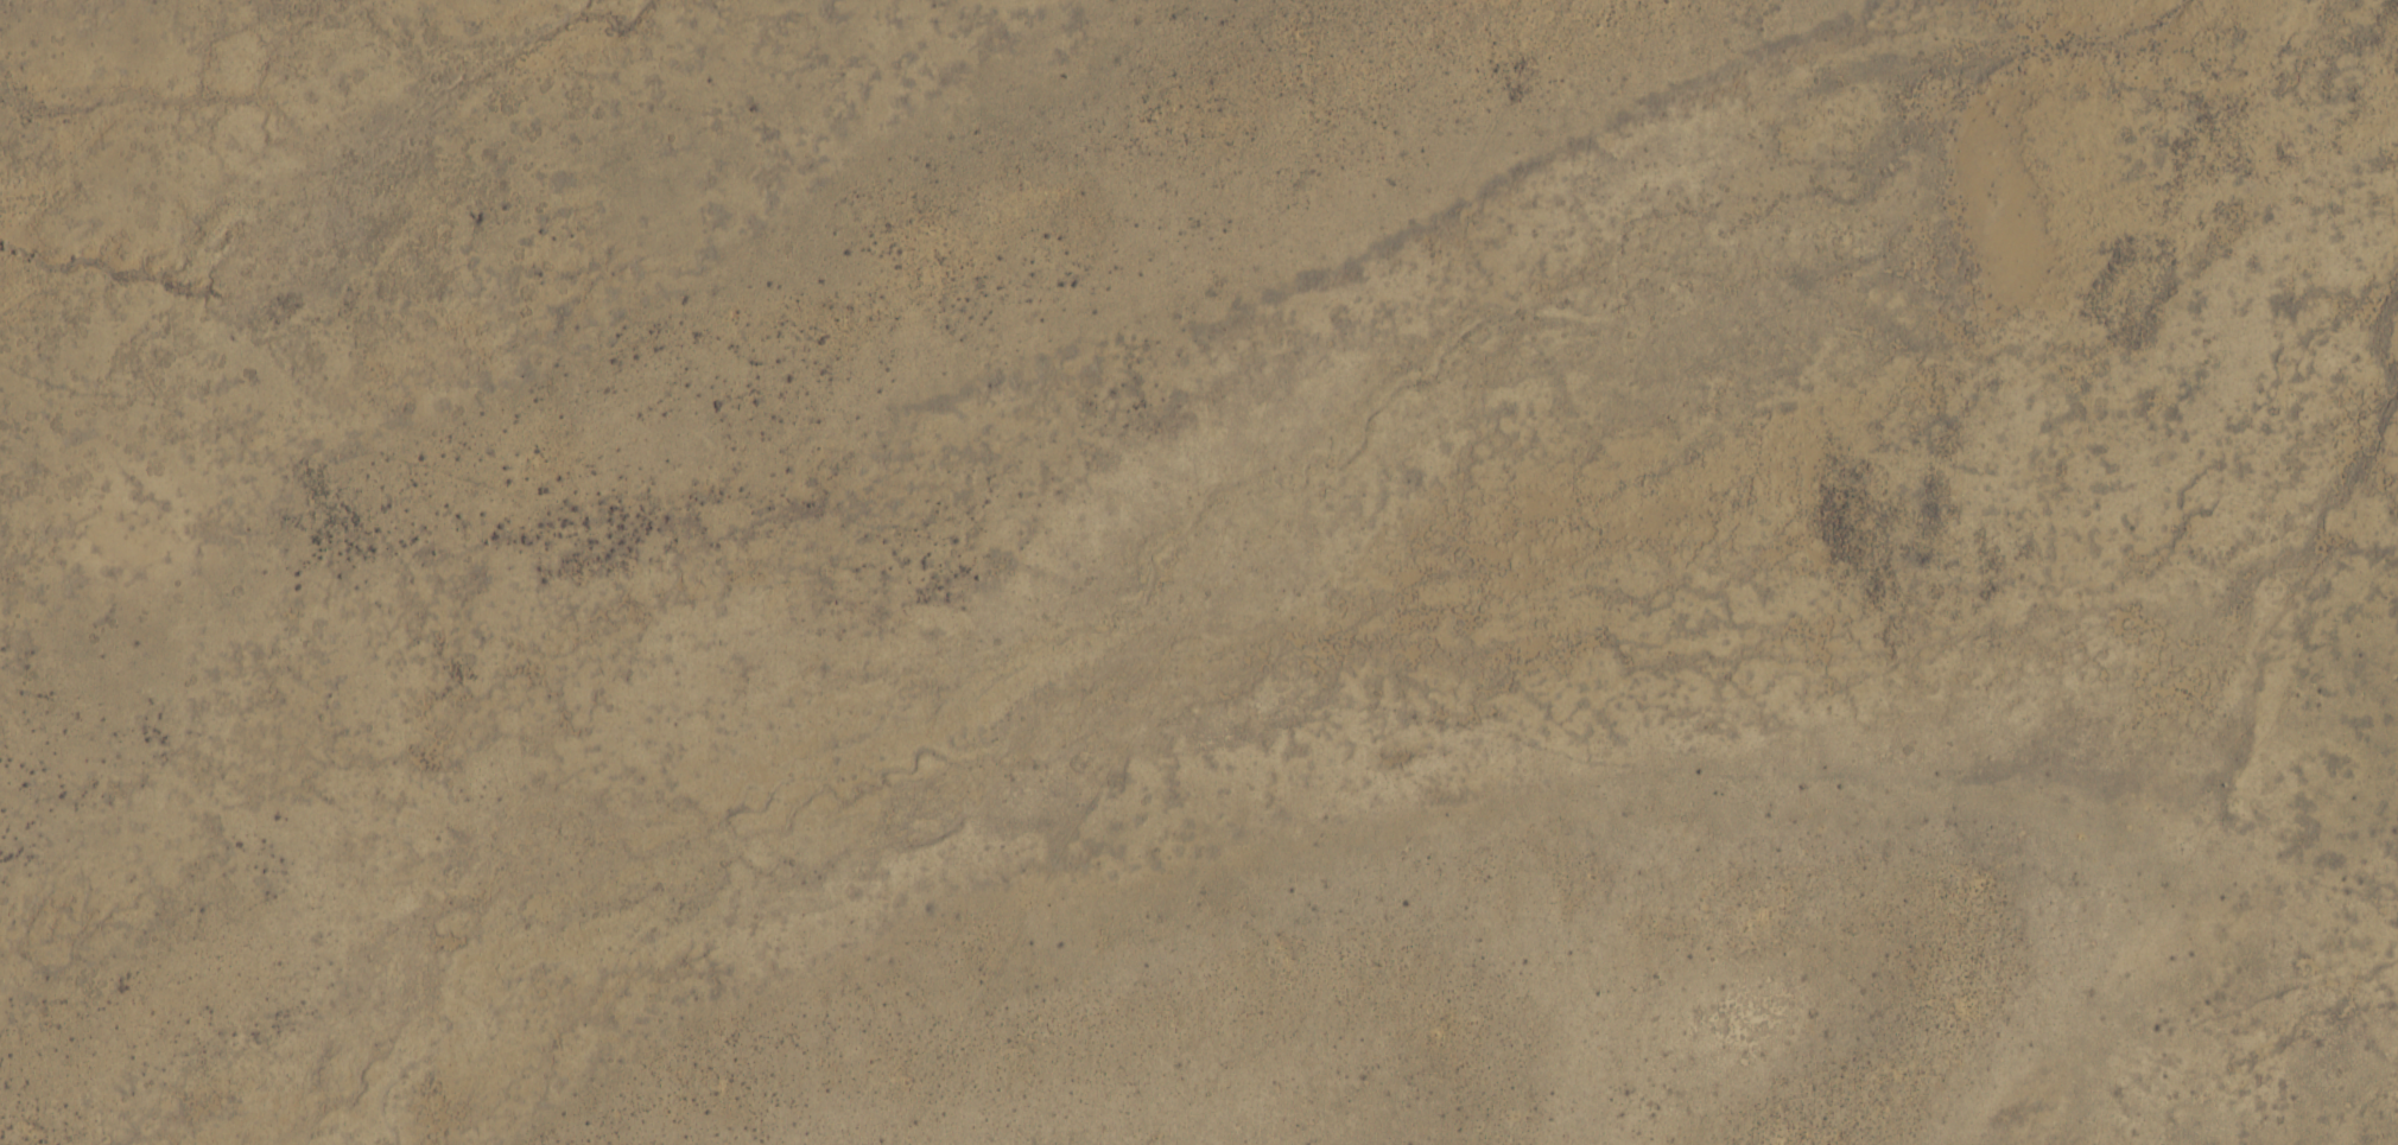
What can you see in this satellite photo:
river: (1353, 491)

